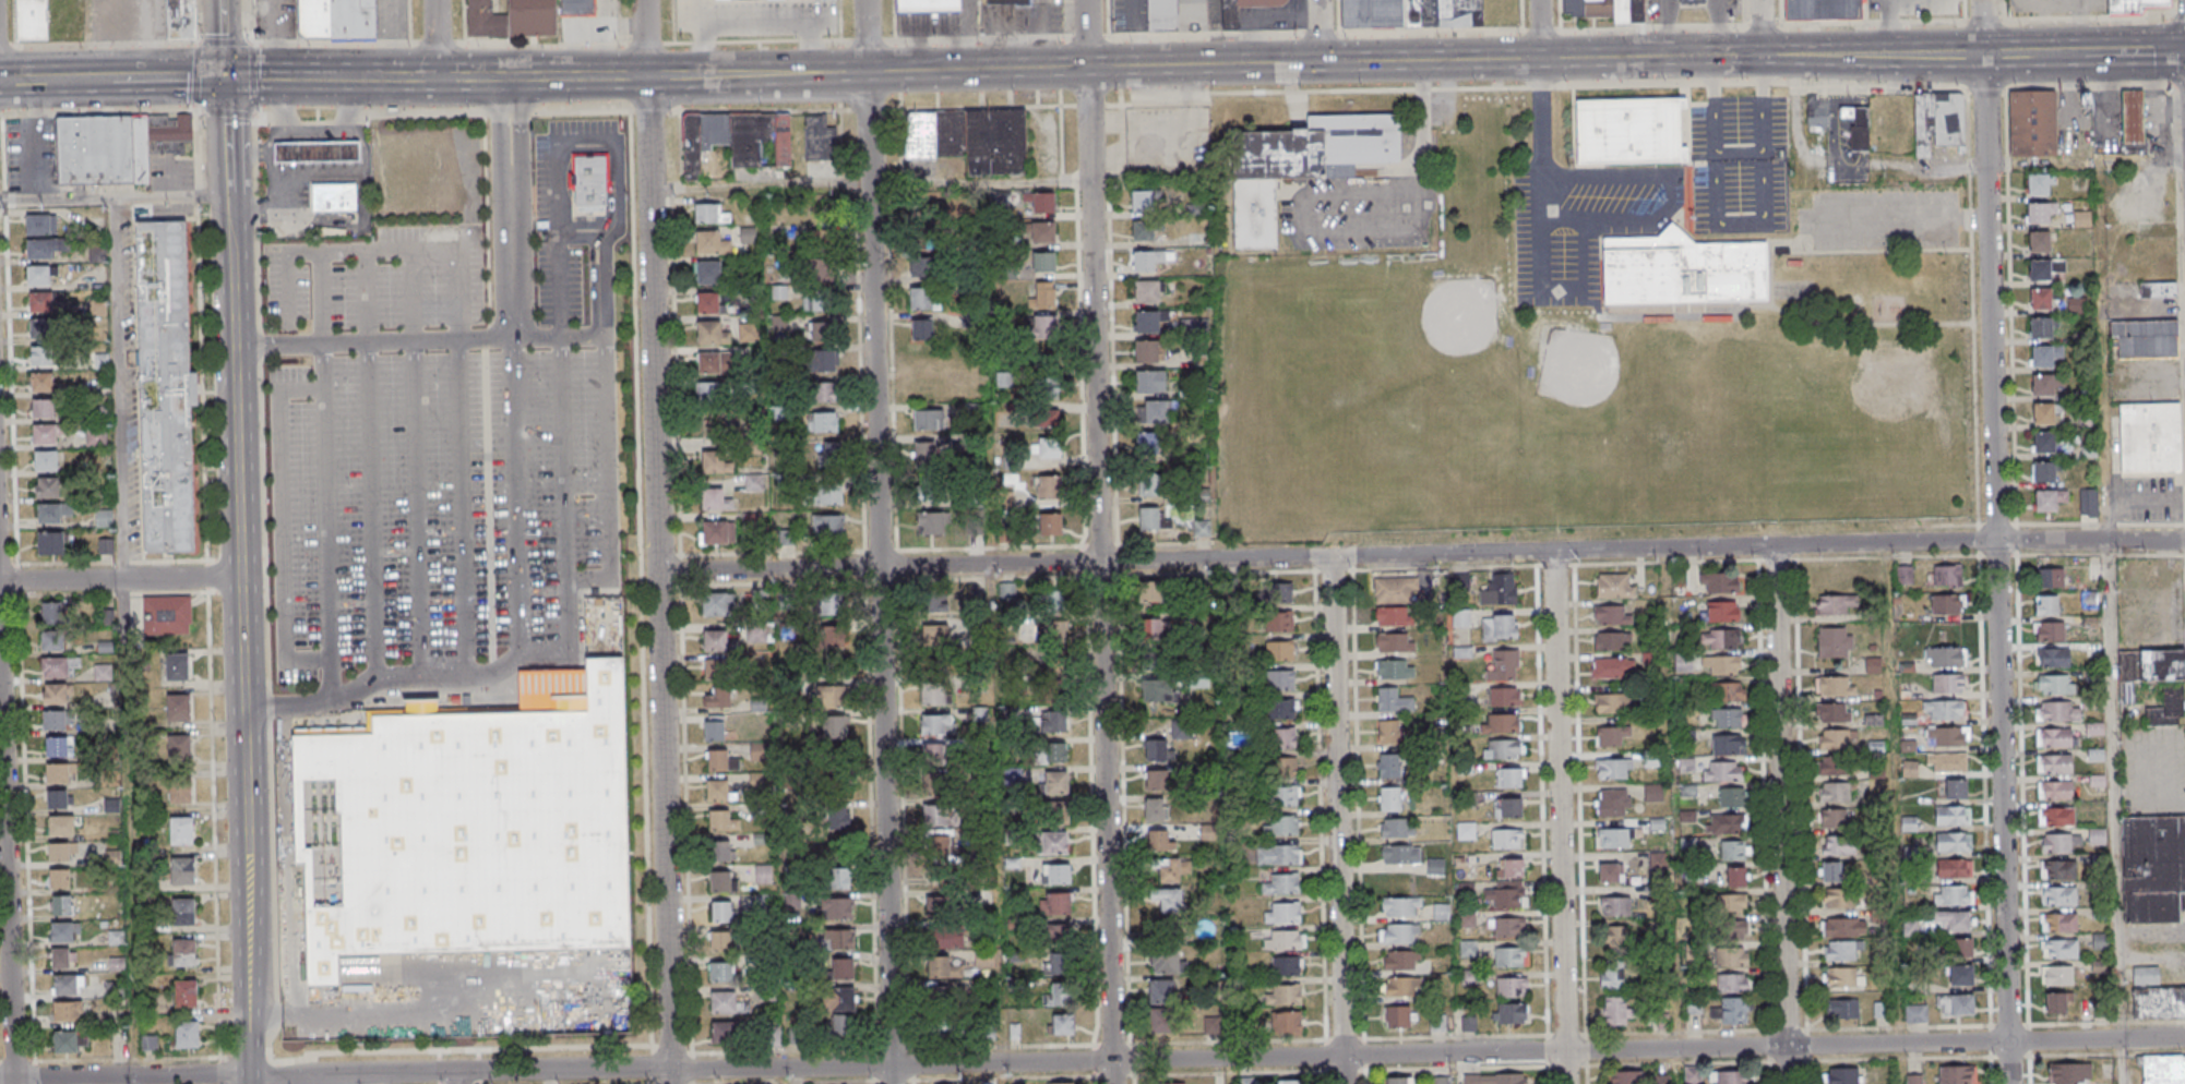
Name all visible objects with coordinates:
road: (2061, 0)
building: (1691, 1)
building: (1007, 2)
building: (929, 5)
building: (2133, 5)
building: (577, 8)
road: (2172, 9)
building: (1607, 10)
building: (1822, 10)
building: (1201, 13)
building: (1410, 13)
road: (1520, 14)
road: (2180, 14)
road: (2087, 15)
building: (121, 17)
building: (180, 19)
building: (337, 19)
building: (512, 19)
road: (1983, 19)
building: (32, 20)
road: (1871, 21)
road: (1763, 23)
road: (1651, 26)
road: (1887, 27)
road: (1540, 28)
road: (1541, 28)
road: (1760, 28)
road: (1315, 31)
road: (1320, 31)
road: (1216, 32)
road: (1135, 33)
road: (1086, 35)
road: (434, 38)
road: (865, 38)
road: (976, 38)
road: (219, 39)
road: (755, 40)
road: (435, 41)
road: (541, 41)
road: (644, 43)
road: (331, 44)
road: (219, 45)
road: (5, 46)
road: (104, 46)
road: (2170, 50)
road: (2134, 52)
road: (2005, 55)
road: (2055, 55)
road: (1347, 62)
traffic signals: (1321, 63)
road: (549, 75)
road: (362, 77)
road: (278, 79)
road: (79, 80)
road: (166, 80)
traffic signals: (222, 80)
road: (23, 81)
road: (2174, 85)
road: (2181, 85)
road: (1535, 86)
road: (2088, 86)
road: (1985, 88)
road: (1089, 105)
road: (979, 107)
building: (1817, 113)
building: (2132, 120)
building: (1938, 121)
road: (1424, 122)
building: (2032, 123)
building: (1858, 127)
road: (315, 129)
building: (1629, 131)
road: (274, 136)
road: (521, 136)
road: (222, 137)
road: (498, 137)
building: (738, 138)
building: (820, 138)
building: (970, 138)
road: (40, 141)
road: (587, 144)
building: (117, 146)
building: (2132, 149)
building: (315, 155)
building: (1301, 167)
road: (272, 178)
building: (589, 180)
road: (1543, 180)
building: (2040, 183)
road: (869, 184)
road: (1611, 184)
road: (111, 197)
building: (332, 200)
building: (1041, 201)
building: (1142, 202)
building: (2040, 212)
building: (711, 215)
building: (2081, 218)
parking lot: (1880, 220)
road: (1899, 220)
building: (40, 225)
parking lot: (1583, 227)
road: (1303, 230)
building: (1144, 231)
building: (1043, 232)
building: (748, 237)
road: (1638, 237)
building: (824, 239)
building: (2039, 241)
road: (1750, 242)
building: (711, 243)
building: (44, 249)
road: (333, 251)
road: (1870, 253)
building: (97, 254)
building: (1146, 261)
building: (1044, 263)
building: (920, 267)
road: (513, 268)
building: (2043, 268)
building: (1682, 270)
building: (708, 273)
building: (38, 276)
road: (2181, 279)
building: (2159, 289)
building: (1147, 292)
road: (456, 296)
building: (1044, 296)
road: (413, 297)
road: (366, 298)
building: (2041, 298)
road: (320, 299)
building: (921, 300)
building: (40, 302)
building: (708, 302)
building: (821, 302)
road: (2010, 305)
building: (2077, 305)
road: (1971, 306)
road: (1078, 322)
building: (1147, 322)
road: (1838, 324)
building: (2043, 326)
building: (40, 328)
building: (1044, 330)
building: (922, 332)
building: (712, 333)
building: (821, 333)
building: (2147, 339)
road: (417, 342)
building: (1147, 351)
park: (1423, 354)
building: (2044, 354)
building: (41, 357)
park: (1599, 358)
building: (821, 361)
building: (716, 362)
building: (1150, 382)
building: (43, 383)
building: (2042, 384)
building: (1046, 386)
building: (165, 387)
building: (926, 390)
building: (824, 394)
building: (714, 395)
building: (44, 409)
park: (1614, 412)
building: (1157, 413)
building: (2043, 413)
park: (1854, 417)
building: (1046, 419)
building: (929, 421)
building: (823, 423)
building: (45, 435)
building: (96, 437)
building: (2150, 437)
building: (2044, 442)
building: (1150, 445)
building: (1047, 448)
building: (924, 454)
parking lot: (425, 456)
building: (822, 458)
building: (46, 460)
building: (716, 462)
building: (2043, 471)
building: (753, 483)
building: (1151, 485)
building: (1047, 487)
building: (48, 489)
building: (824, 496)
road: (517, 497)
building: (715, 499)
building: (2047, 499)
building: (2088, 503)
road: (461, 507)
road: (418, 509)
road: (371, 511)
building: (52, 514)
building: (103, 518)
building: (1149, 520)
building: (931, 522)
road: (1995, 522)
road: (279, 523)
road: (326, 523)
building: (1050, 526)
building: (826, 527)
building: (1203, 529)
building: (717, 532)
building: (784, 538)
road: (1978, 538)
road: (2015, 539)
road: (657, 541)
road: (1995, 541)
road: (877, 542)
road: (1098, 542)
building: (50, 544)
building: (105, 546)
road: (1421, 554)
road: (1997, 554)
road: (2101, 554)
road: (1887, 556)
building: (2094, 570)
building: (1903, 575)
building: (1947, 575)
building: (2054, 577)
road: (117, 579)
building: (1830, 579)
building: (1719, 583)
building: (1613, 586)
building: (1394, 590)
building: (1500, 590)
building: (1007, 592)
building: (1151, 593)
building: (1280, 593)
building: (2087, 598)
building: (1052, 599)
building: (934, 601)
building: (832, 603)
building: (1834, 604)
building: (1946, 604)
building: (2046, 604)
building: (717, 605)
building: (1721, 612)
building: (52, 614)
building: (167, 615)
building: (1611, 615)
building: (1393, 616)
building: (1279, 621)
building: (1499, 627)
building: (2051, 631)
building: (759, 634)
building: (1050, 635)
building: (1154, 635)
building: (936, 637)
road: (236, 639)
building: (1720, 639)
building: (52, 640)
road: (122, 640)
building: (715, 640)
building: (1611, 640)
building: (832, 641)
building: (1395, 642)
building: (1835, 642)
building: (1281, 650)
road: (553, 653)
building: (1946, 657)
building: (2053, 658)
building: (1504, 665)
building: (1873, 665)
building: (58, 666)
building: (177, 666)
building: (1721, 666)
building: (1612, 667)
building: (2147, 669)
building: (717, 670)
building: (1394, 670)
building: (1282, 679)
building: (1948, 684)
building: (2055, 685)
building: (1835, 686)
building: (1158, 691)
building: (1729, 692)
building: (56, 694)
building: (933, 696)
building: (1503, 696)
building: (832, 697)
building: (718, 698)
building: (1393, 700)
building: (1612, 702)
building: (2169, 707)
building: (179, 708)
building: (1283, 708)
building: (1945, 711)
building: (2057, 712)
building: (1832, 713)
building: (1728, 718)
building: (55, 721)
building: (1053, 721)
building: (1503, 723)
building: (938, 724)
building: (715, 727)
building: (834, 727)
building: (1388, 731)
building: (1611, 735)
building: (1947, 736)
building: (1282, 737)
building: (2055, 738)
building: (1837, 739)
building: (1727, 744)
building: (179, 746)
building: (58, 747)
building: (1156, 749)
building: (1505, 749)
building: (759, 751)
building: (1056, 751)
building: (721, 760)
building: (1946, 763)
building: (2054, 763)
building: (1388, 764)
building: (1835, 766)
building: (1282, 767)
building: (1614, 769)
building: (1722, 771)
building: (58, 773)
building: (1511, 778)
building: (1157, 780)
building: (759, 781)
building: (1058, 782)
building: (935, 783)
building: (1956, 788)
building: (717, 790)
building: (2055, 790)
road: (2115, 790)
building: (180, 792)
building: (1834, 792)
building: (1287, 796)
building: (1732, 797)
building: (1390, 798)
building: (57, 799)
building: (1613, 802)
building: (1508, 807)
building: (1156, 808)
building: (1058, 810)
building: (834, 814)
road: (1779, 815)
building: (1951, 815)
building: (2056, 816)
building: (935, 817)
road: (1559, 818)
building: (1832, 818)
road: (1337, 820)
building: (721, 821)
building: (467, 823)
building: (1726, 824)
building: (61, 826)
building: (1283, 826)
building: (1396, 829)
building: (181, 830)
building: (1465, 831)
building: (1207, 834)
road: (212, 838)
building: (1614, 838)
building: (1506, 839)
building: (1054, 842)
building: (1953, 842)
building: (2059, 842)
building: (1162, 844)
building: (1838, 845)
building: (942, 847)
building: (719, 851)
building: (1733, 851)
building: (59, 852)
building: (1278, 854)
building: (1400, 855)
building: (1435, 867)
building: (1509, 868)
building: (1953, 868)
building: (2153, 868)
building: (2058, 869)
building: (182, 870)
building: (1170, 870)
building: (1830, 871)
building: (1608, 872)
building: (763, 874)
building: (1055, 874)
building: (1735, 877)
building: (59, 878)
building: (838, 878)
building: (720, 881)
road: (7, 882)
building: (1282, 883)
building: (1953, 895)
building: (2058, 895)
building: (1504, 898)
building: (1839, 899)
building: (1168, 901)
building: (1733, 902)
building: (941, 904)
building: (1055, 904)
building: (61, 906)
building: (1614, 906)
building: (835, 907)
building: (1400, 907)
building: (182, 912)
building: (723, 912)
building: (1283, 913)
building: (1441, 913)
building: (1467, 920)
building: (1953, 922)
building: (2058, 922)
building: (1736, 928)
building: (1508, 929)
building: (1843, 929)
building: (62, 934)
building: (1400, 935)
building: (1615, 935)
building: (1058, 936)
building: (946, 938)
building: (839, 939)
building: (720, 941)
building: (1283, 941)
building: (1960, 949)
building: (2059, 949)
building: (183, 952)
building: (1836, 953)
building: (1511, 956)
building: (1738, 959)
building: (60, 960)
building: (984, 960)
building: (1166, 961)
building: (1400, 961)
building: (1058, 965)
building: (944, 967)
building: (1286, 967)
building: (843, 968)
building: (720, 972)
building: (2058, 975)
building: (2145, 975)
building: (1611, 976)
building: (1960, 976)
building: (1840, 978)
building: (1731, 984)
building: (67, 986)
building: (1404, 986)
building: (1512, 987)
building: (1161, 990)
building: (186, 992)
building: (1283, 995)
building: (941, 997)
building: (841, 999)
building: (728, 1002)
building: (2054, 1002)
building: (2159, 1002)
building: (1956, 1004)
building: (1694, 1007)
building: (1060, 1010)
building: (1614, 1010)
building: (1841, 1010)
building: (67, 1012)
building: (1730, 1012)
building: (1511, 1013)
building: (1915, 1013)
building: (1398, 1016)
building: (1161, 1020)
building: (1286, 1021)
building: (1468, 1023)
building: (1211, 1024)
building: (840, 1026)
building: (725, 1032)
building: (187, 1034)
building: (65, 1043)
road: (1091, 1061)
building: (2162, 1069)
building: (2070, 1073)
building: (1956, 1074)
building: (1843, 1075)
road: (456, 1077)
building: (1627, 1077)
building: (1732, 1077)
building: (1494, 1079)
building: (1913, 1080)
building: (1399, 1081)
building: (1441, 1081)
building: (1289, 1082)
building: (1060, 1083)
building: (1170, 1083)

